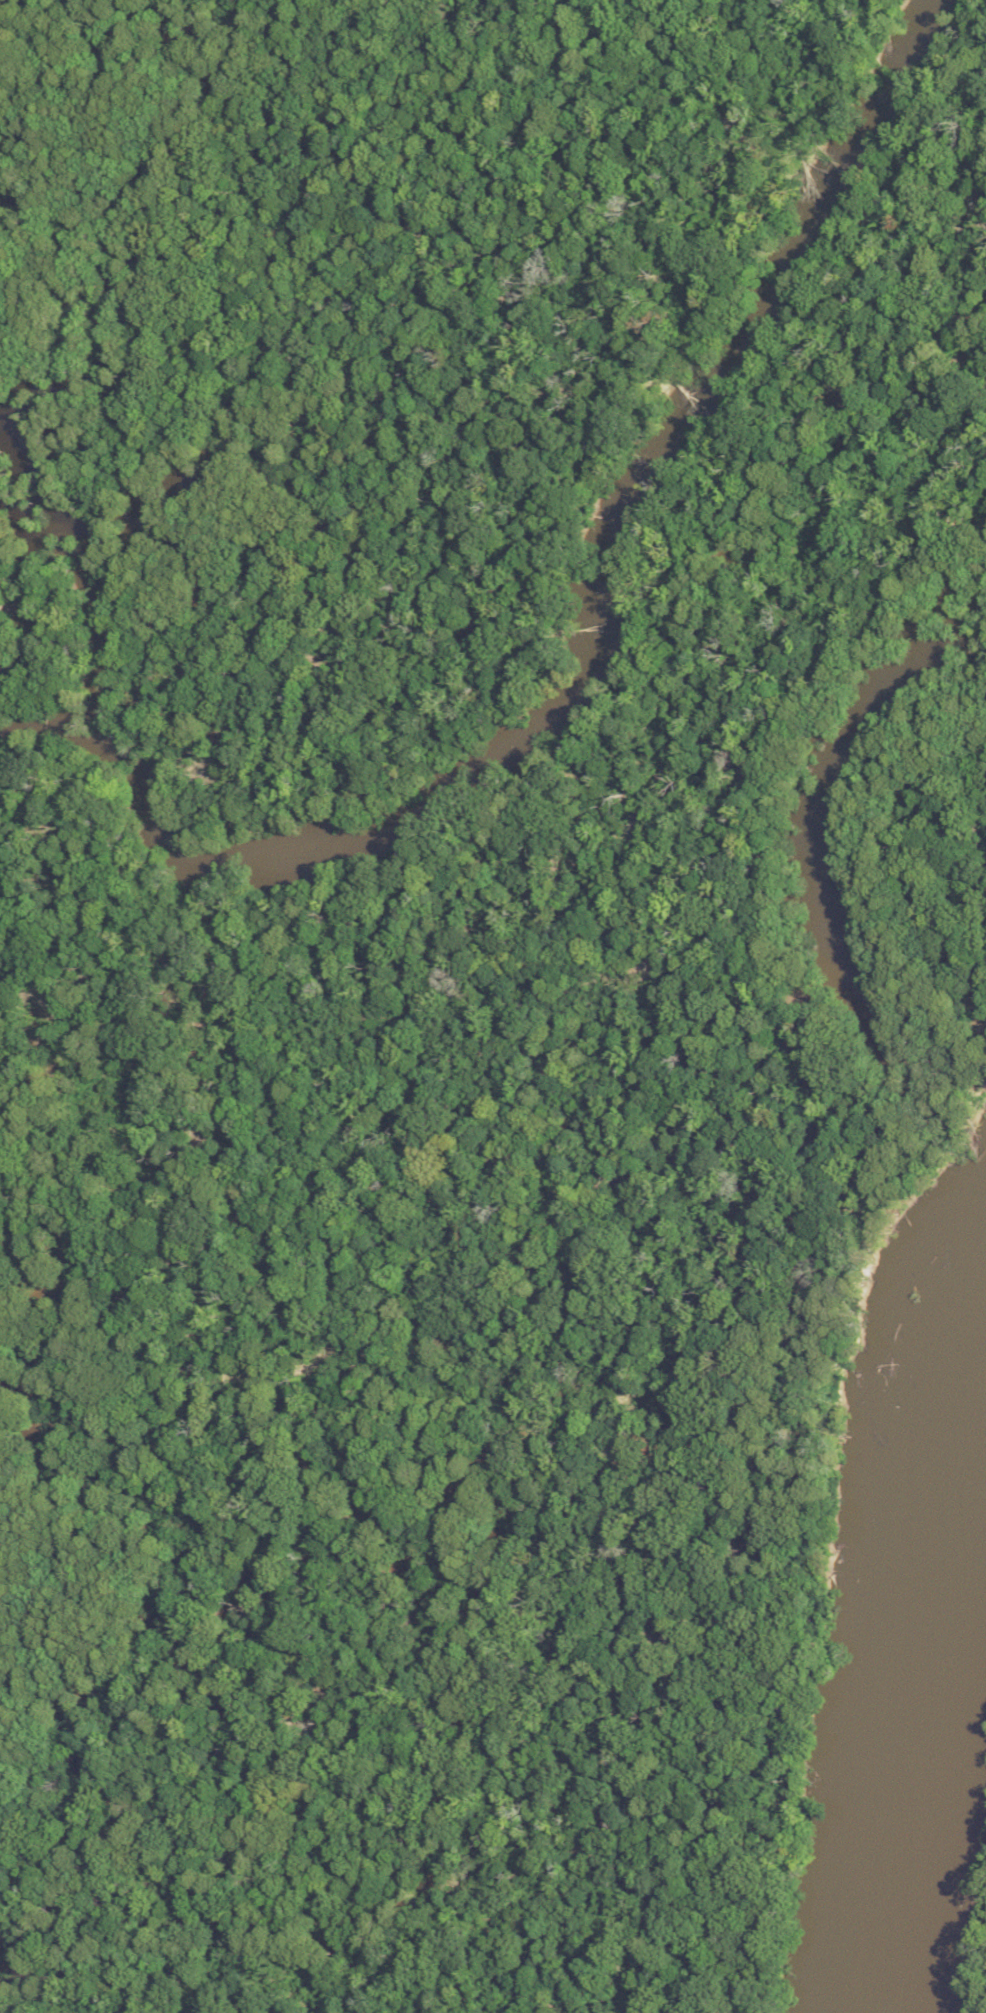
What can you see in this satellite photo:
river: (585, 639)
river: (896, 1678)

